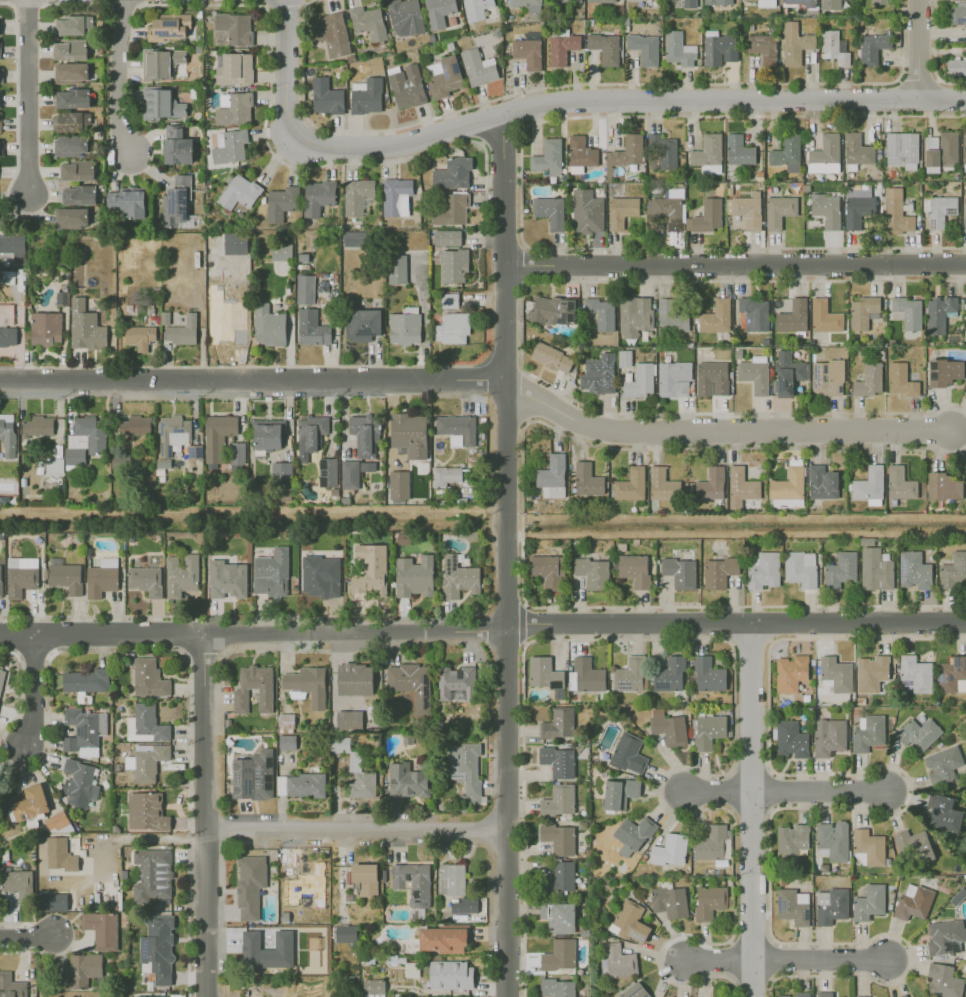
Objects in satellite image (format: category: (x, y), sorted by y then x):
building: (652, 0)
building: (960, 0)
building: (564, 1)
building: (601, 1)
building: (879, 1)
building: (718, 2)
building: (799, 2)
building: (767, 3)
building: (689, 4)
building: (830, 4)
building: (528, 6)
building: (476, 9)
building: (438, 12)
building: (957, 13)
building: (405, 17)
building: (368, 22)
building: (74, 25)
building: (168, 27)
building: (233, 29)
building: (332, 33)
building: (795, 43)
building: (872, 46)
building: (604, 47)
building: (644, 47)
building: (719, 47)
building: (834, 47)
building: (561, 48)
building: (763, 48)
building: (678, 49)
building: (0, 50)
building: (70, 50)
road: (922, 50)
building: (528, 52)
building: (161, 63)
building: (957, 65)
building: (478, 67)
building: (234, 68)
building: (71, 73)
building: (443, 76)
road: (119, 79)
building: (406, 85)
building: (326, 96)
building: (367, 97)
road: (27, 98)
building: (72, 98)
road: (557, 101)
building: (161, 104)
building: (234, 109)
building: (72, 121)
building: (0, 122)
building: (70, 145)
building: (178, 146)
building: (230, 146)
building: (902, 149)
building: (0, 150)
building: (628, 150)
building: (664, 150)
building: (738, 150)
building: (940, 150)
building: (856, 151)
building: (964, 151)
building: (580, 153)
building: (786, 153)
building: (708, 154)
building: (825, 154)
building: (548, 157)
building: (77, 170)
building: (452, 173)
road: (520, 184)
road: (504, 190)
building: (239, 192)
building: (78, 195)
building: (356, 196)
building: (318, 197)
building: (396, 197)
building: (176, 200)
building: (128, 202)
building: (282, 203)
building: (667, 208)
building: (451, 209)
building: (746, 209)
building: (826, 209)
building: (857, 209)
building: (621, 210)
building: (779, 210)
building: (940, 210)
building: (550, 211)
building: (586, 211)
building: (895, 211)
building: (964, 212)
building: (706, 216)
building: (71, 217)
building: (1, 223)
building: (447, 237)
building: (355, 238)
building: (227, 243)
building: (12, 247)
building: (281, 252)
road: (524, 263)
building: (453, 265)
road: (736, 265)
building: (397, 269)
building: (15, 275)
building: (305, 289)
building: (448, 300)
building: (553, 310)
building: (861, 311)
building: (601, 312)
building: (907, 312)
building: (939, 312)
building: (754, 313)
building: (634, 315)
building: (670, 316)
building: (716, 316)
building: (792, 316)
building: (824, 316)
building: (362, 324)
road: (504, 324)
building: (268, 326)
building: (405, 326)
building: (85, 327)
building: (224, 327)
building: (46, 328)
building: (312, 328)
building: (452, 328)
building: (183, 331)
road: (521, 335)
building: (8, 336)
building: (140, 337)
building: (552, 357)
building: (624, 358)
road: (235, 365)
building: (944, 371)
building: (787, 372)
building: (754, 373)
building: (598, 374)
building: (827, 377)
building: (712, 378)
building: (674, 379)
building: (869, 379)
building: (639, 380)
building: (901, 380)
road: (251, 383)
building: (965, 393)
road: (524, 396)
building: (38, 426)
building: (135, 426)
building: (457, 429)
building: (310, 432)
road: (721, 433)
building: (7, 434)
building: (172, 434)
building: (409, 434)
building: (365, 435)
building: (267, 436)
building: (218, 437)
building: (85, 439)
building: (238, 456)
building: (53, 468)
building: (965, 469)
building: (281, 471)
building: (327, 472)
building: (353, 472)
building: (445, 476)
building: (552, 476)
building: (586, 479)
building: (822, 482)
building: (900, 483)
building: (630, 484)
building: (662, 484)
building: (710, 484)
building: (399, 485)
building: (741, 486)
building: (868, 486)
building: (943, 486)
building: (787, 487)
road: (505, 505)
road: (522, 509)
building: (800, 568)
building: (547, 569)
building: (634, 569)
building: (840, 569)
building: (875, 569)
building: (913, 570)
building: (953, 570)
building: (370, 571)
building: (763, 571)
building: (592, 572)
building: (680, 572)
building: (718, 572)
building: (271, 573)
building: (21, 575)
building: (181, 575)
building: (414, 576)
building: (66, 577)
building: (102, 578)
building: (458, 578)
building: (227, 579)
building: (0, 580)
building: (146, 580)
building: (323, 587)
road: (736, 623)
road: (523, 624)
road: (355, 632)
road: (102, 636)
road: (867, 638)
road: (690, 639)
road: (750, 641)
road: (204, 664)
building: (543, 672)
building: (668, 672)
building: (871, 672)
building: (790, 673)
building: (835, 673)
building: (708, 674)
building: (914, 674)
building: (952, 674)
building: (585, 675)
building: (629, 675)
building: (149, 678)
building: (354, 679)
building: (85, 680)
building: (0, 682)
building: (410, 683)
building: (456, 683)
building: (307, 684)
building: (265, 689)
road: (34, 691)
building: (349, 719)
building: (285, 720)
building: (558, 723)
building: (146, 724)
building: (668, 727)
building: (707, 730)
building: (83, 731)
building: (868, 732)
building: (917, 733)
building: (828, 736)
building: (790, 739)
building: (286, 742)
building: (628, 753)
building: (146, 760)
building: (558, 761)
road: (206, 764)
building: (943, 764)
building: (465, 768)
building: (355, 769)
building: (252, 776)
building: (406, 781)
building: (80, 782)
building: (307, 785)
road: (730, 789)
road: (789, 791)
building: (619, 793)
building: (558, 800)
building: (30, 802)
road: (750, 810)
building: (146, 811)
road: (505, 811)
building: (942, 813)
road: (523, 819)
building: (56, 821)
building: (632, 834)
road: (356, 835)
building: (558, 838)
road: (140, 839)
building: (833, 839)
building: (791, 840)
building: (710, 843)
building: (913, 845)
building: (868, 846)
building: (669, 849)
building: (60, 854)
building: (152, 875)
building: (562, 875)
building: (365, 878)
building: (451, 879)
building: (312, 880)
building: (413, 882)
road: (733, 882)
building: (18, 884)
building: (250, 885)
building: (669, 901)
building: (709, 901)
building: (54, 902)
building: (869, 902)
building: (913, 902)
building: (830, 905)
building: (464, 906)
building: (793, 906)
road: (208, 916)
building: (558, 917)
building: (630, 921)
building: (101, 929)
building: (345, 933)
building: (945, 936)
road: (27, 937)
building: (442, 939)
building: (158, 948)
building: (267, 950)
building: (559, 956)
building: (619, 960)
road: (729, 960)
road: (788, 960)
building: (83, 968)
building: (450, 974)
building: (943, 980)
building: (11, 986)
building: (372, 986)
building: (557, 988)
building: (634, 991)
building: (796, 994)
building: (823, 994)
building: (903, 995)
building: (165, 996)
building: (860, 996)
building: (920, 996)

